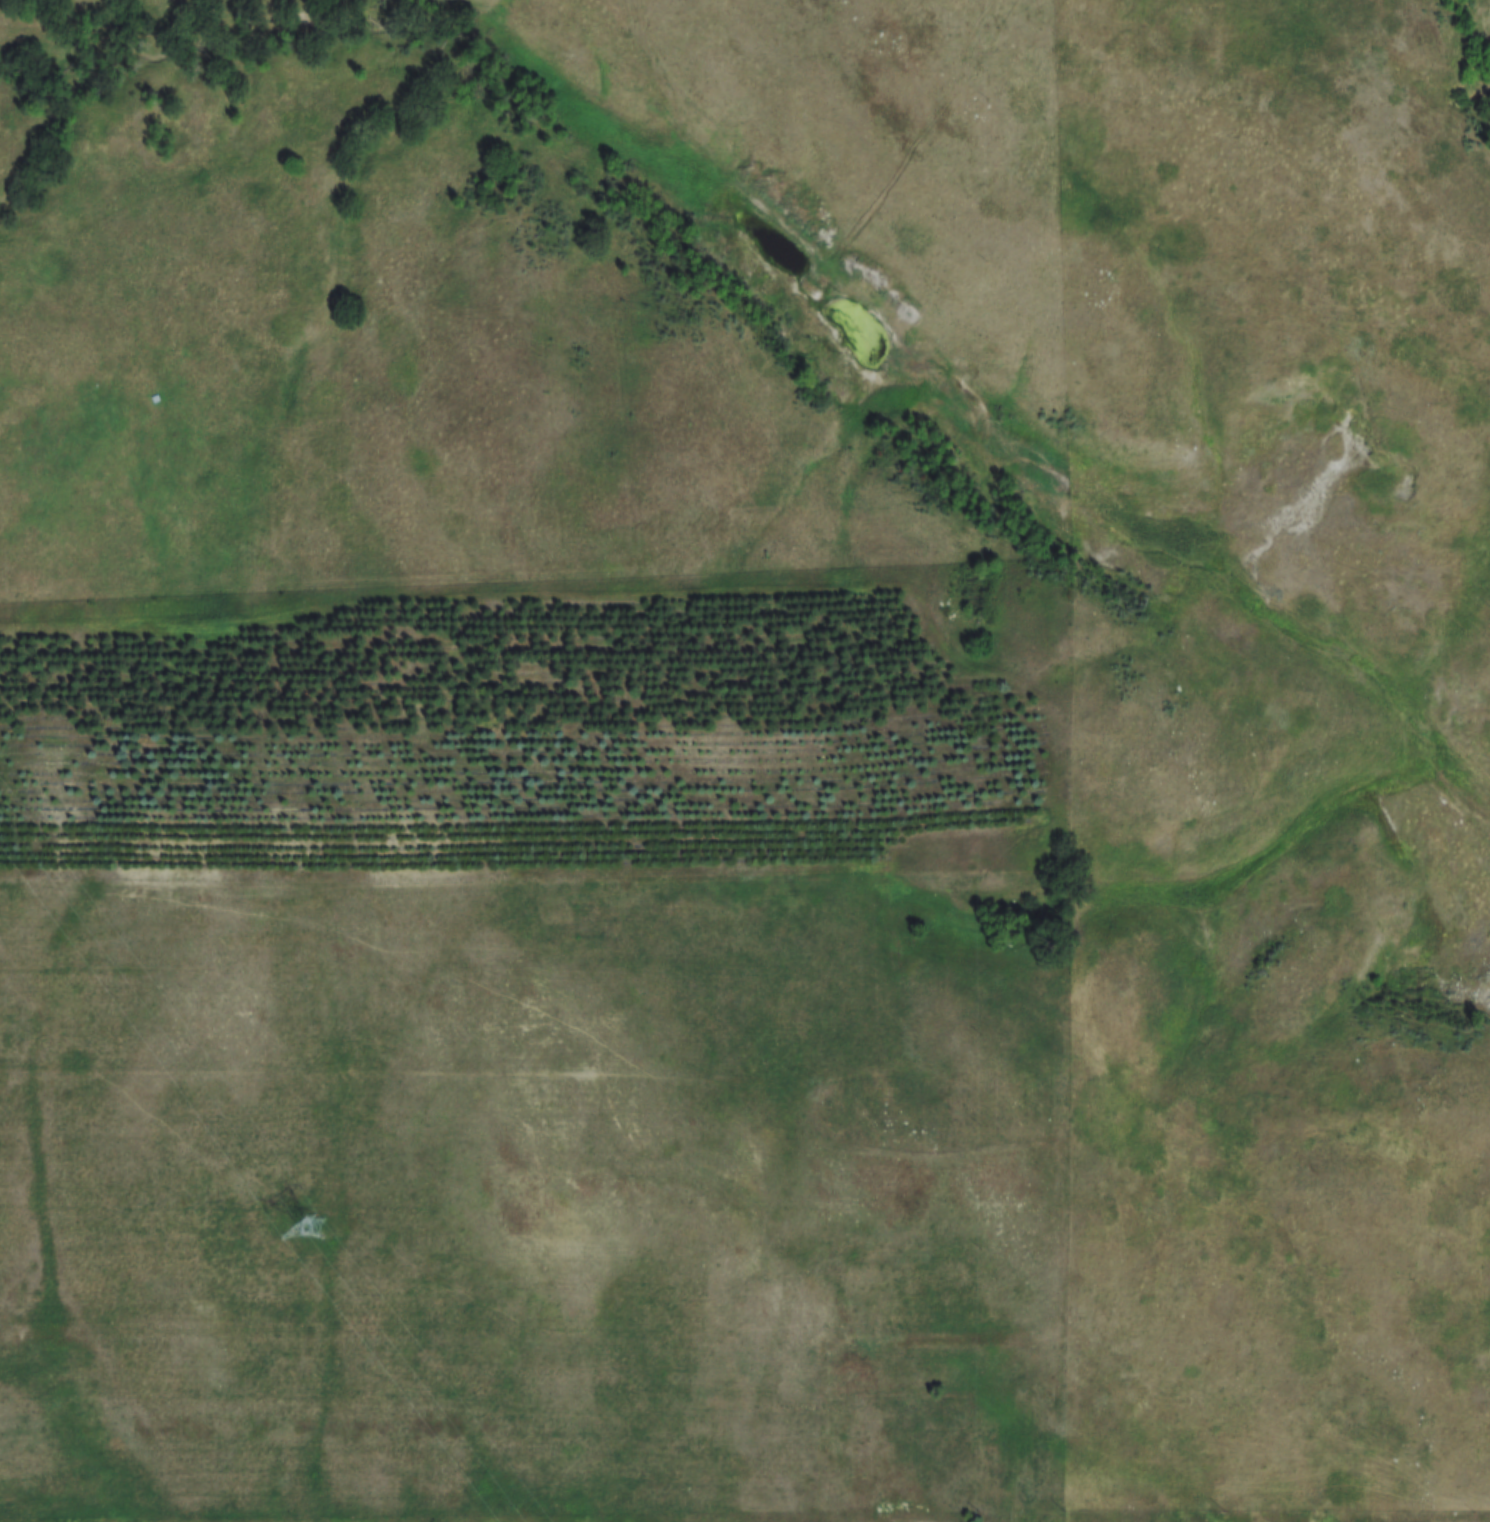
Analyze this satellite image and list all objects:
power tower: (324, 1226)

